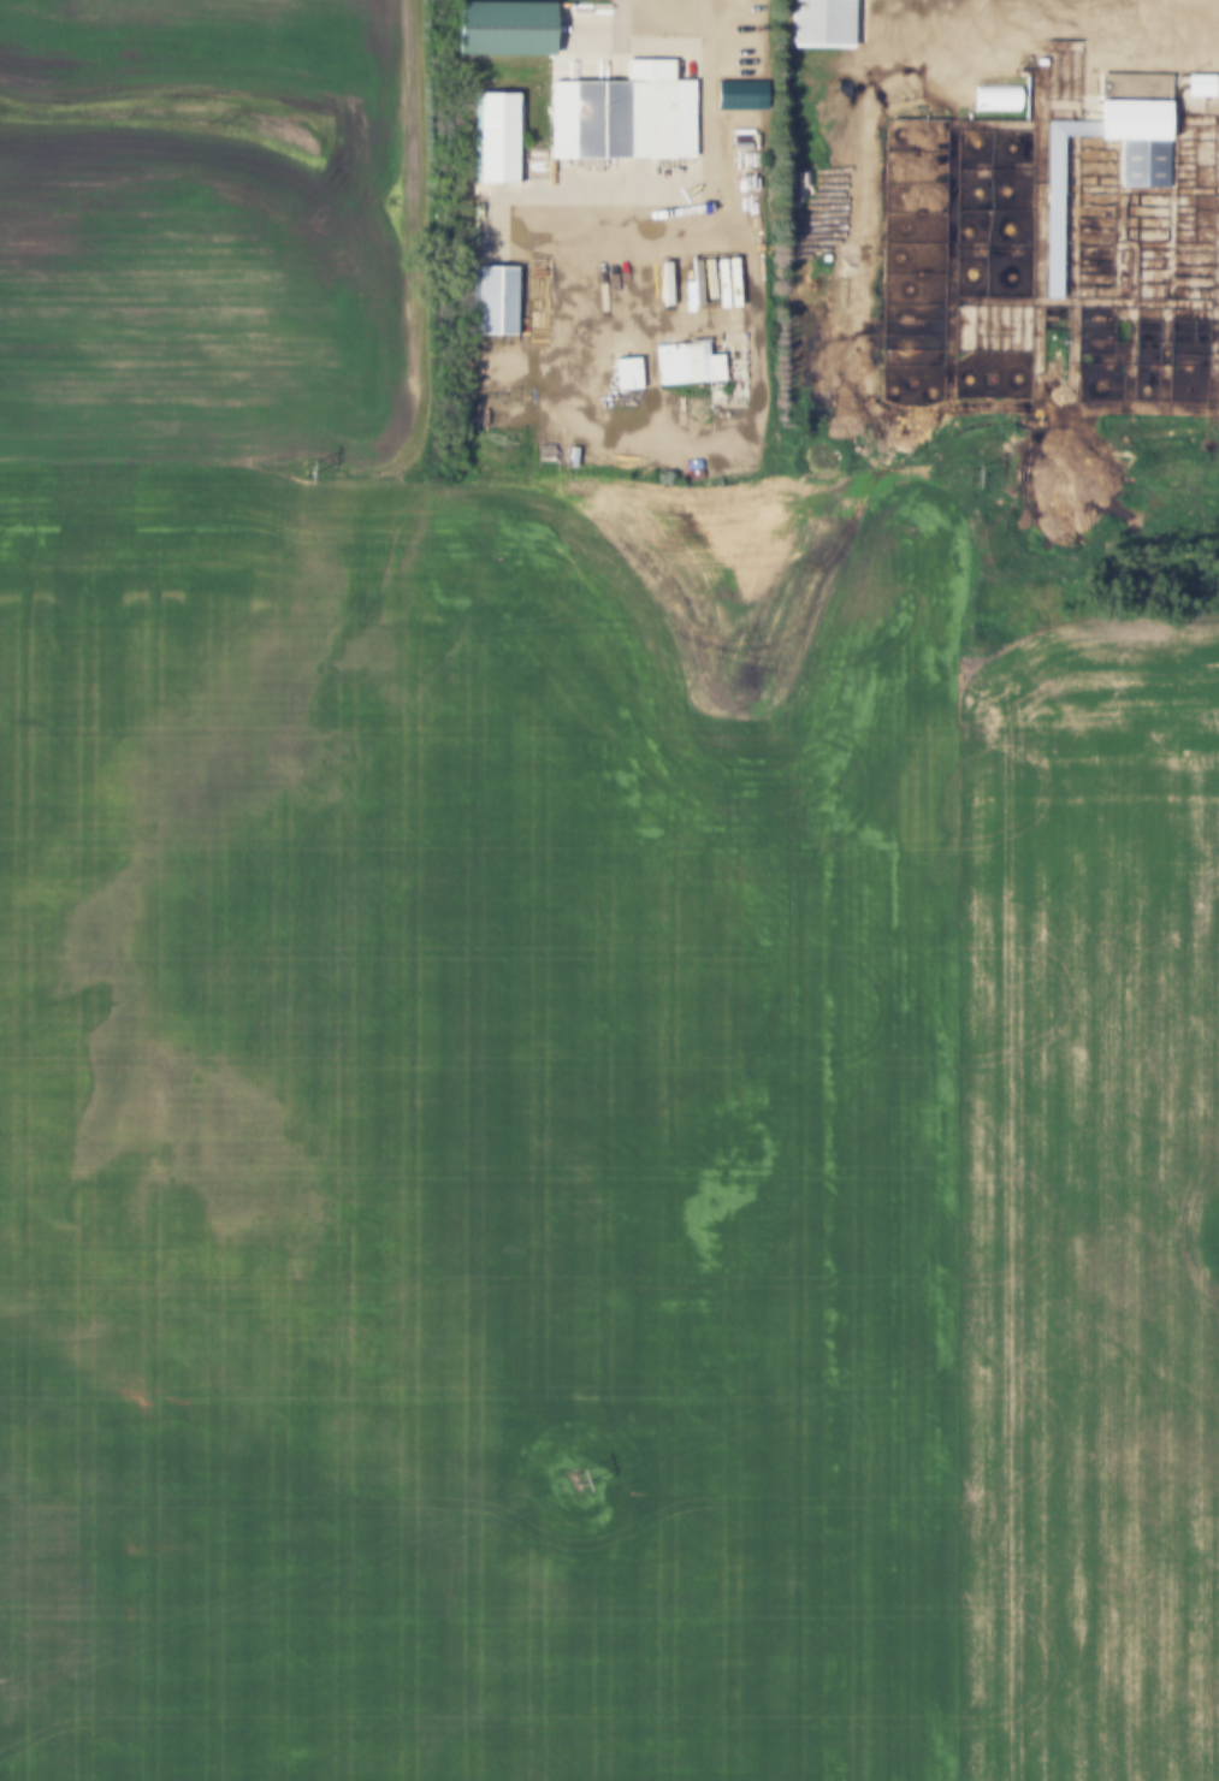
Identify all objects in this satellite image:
road: (670, 11)
building: (818, 23)
building: (499, 29)
building: (1199, 78)
building: (1203, 88)
building: (993, 93)
building: (740, 94)
building: (620, 116)
building: (1143, 119)
building: (499, 137)
building: (492, 292)
road: (869, 357)
building: (691, 367)
building: (698, 414)

